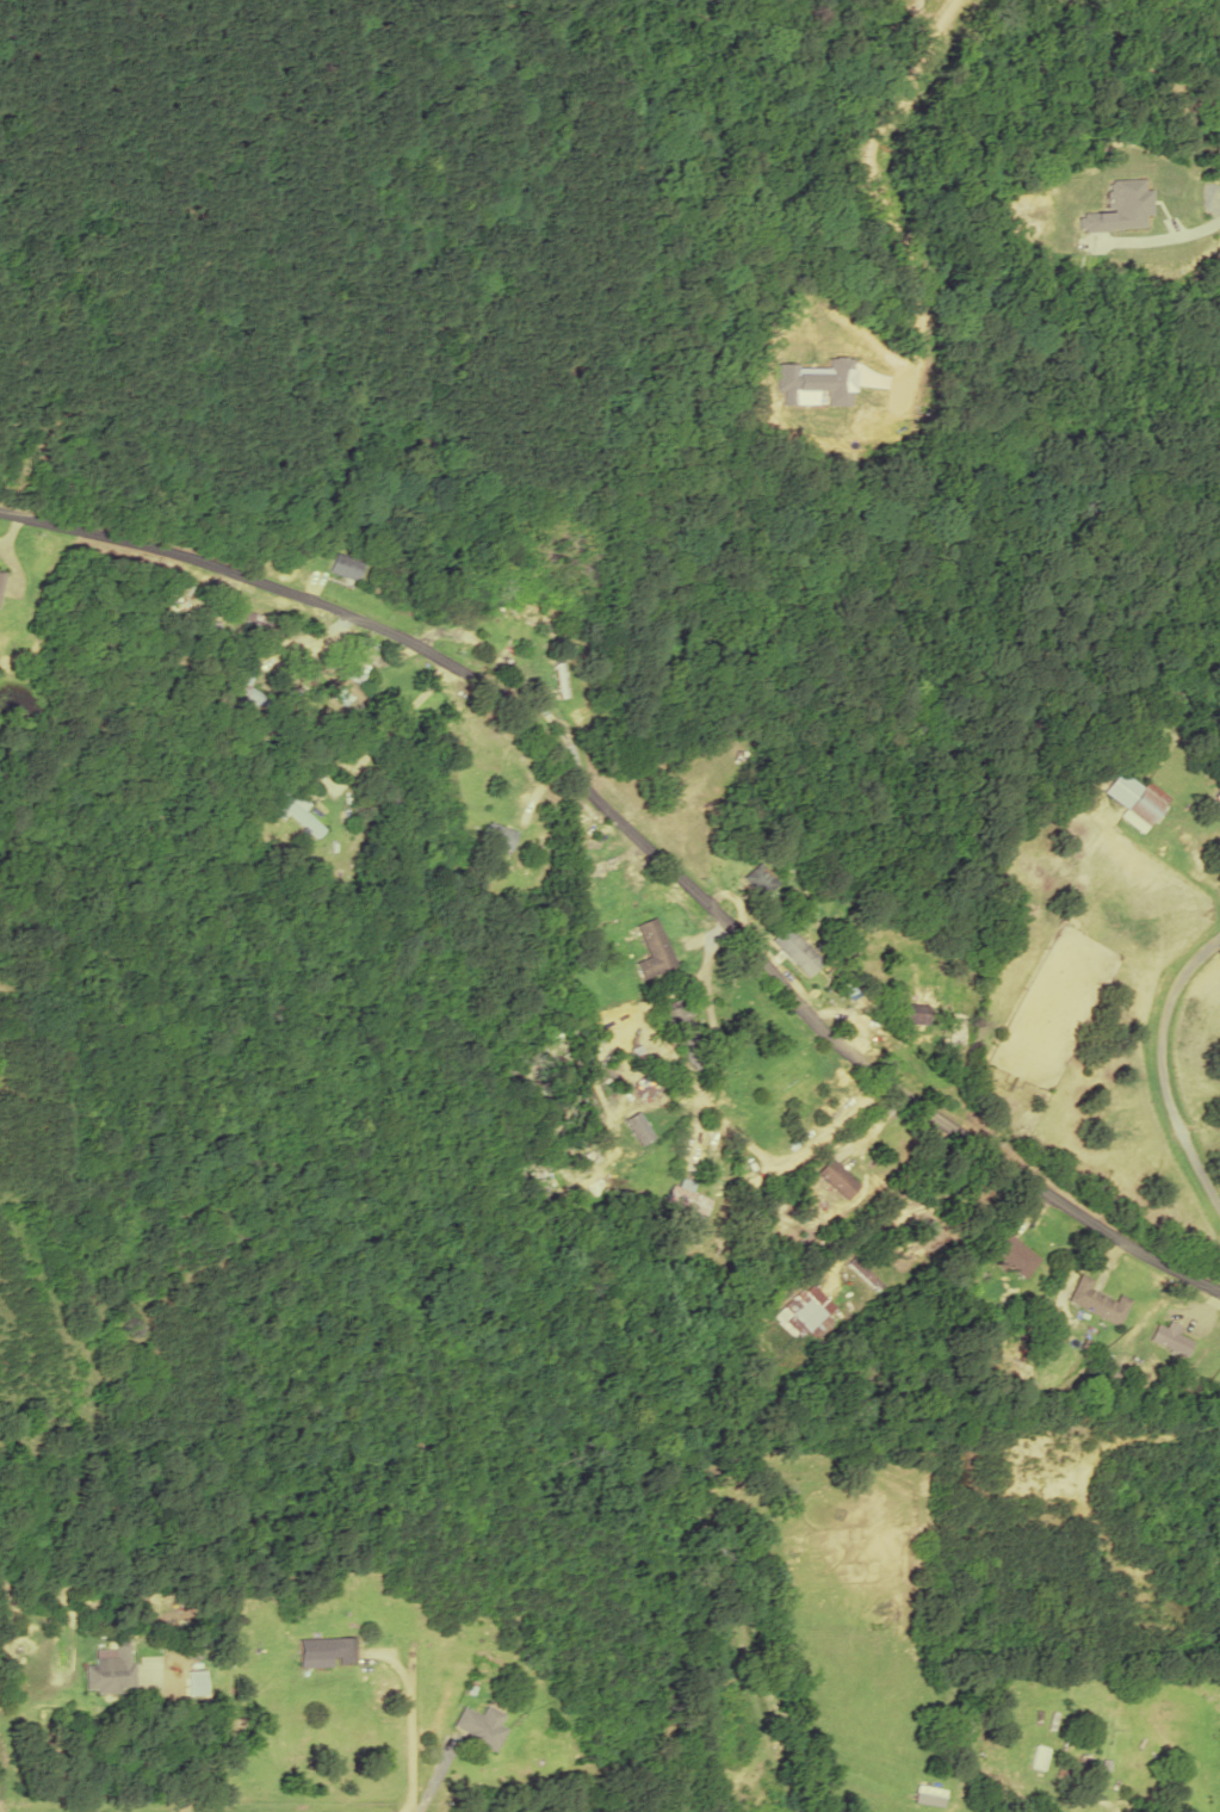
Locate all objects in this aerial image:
road: (888, 113)
building: (341, 567)
building: (1, 582)
building: (518, 621)
building: (558, 679)
building: (340, 681)
building: (1216, 794)
building: (1132, 798)
building: (302, 811)
building: (496, 834)
road: (639, 842)
building: (617, 878)
building: (756, 879)
building: (651, 950)
building: (793, 950)
building: (914, 1013)
building: (686, 1034)
building: (637, 1066)
building: (831, 1177)
building: (683, 1199)
building: (1011, 1255)
building: (1092, 1301)
building: (806, 1316)
building: (1166, 1337)
building: (324, 1650)
building: (109, 1669)
building: (193, 1682)
building: (478, 1725)
building: (1036, 1757)

